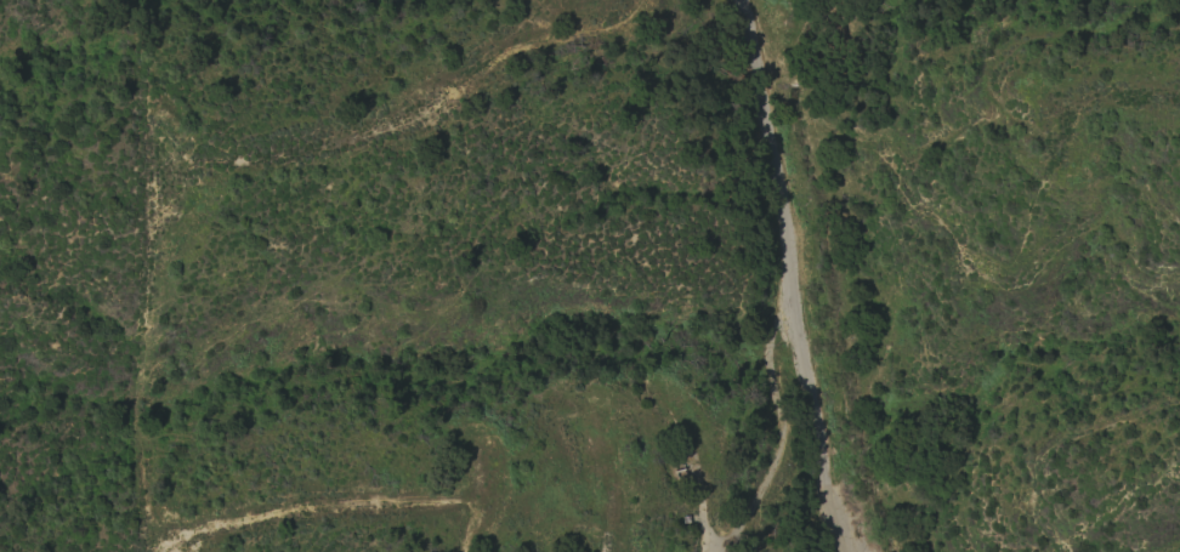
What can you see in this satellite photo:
road: (790, 277)
road: (777, 427)
road: (464, 540)

